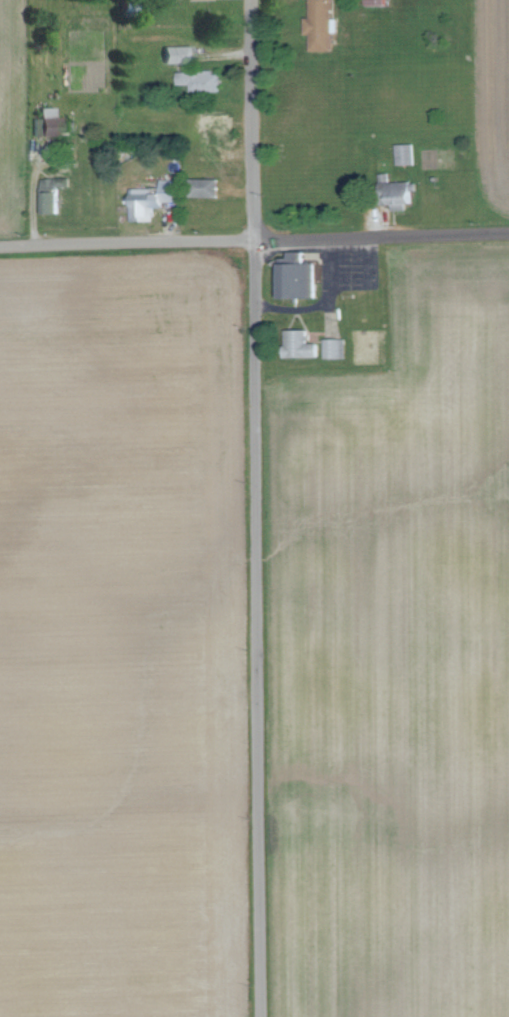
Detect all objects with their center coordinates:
building: (322, 24)
building: (180, 54)
building: (186, 78)
building: (49, 123)
building: (217, 124)
building: (405, 154)
building: (207, 187)
building: (52, 199)
building: (404, 199)
building: (153, 200)
road: (254, 239)
road: (326, 241)
parking lot: (348, 266)
road: (327, 267)
building: (294, 278)
road: (328, 301)
road: (291, 309)
road: (328, 325)
building: (296, 345)
building: (333, 348)
road: (255, 508)

